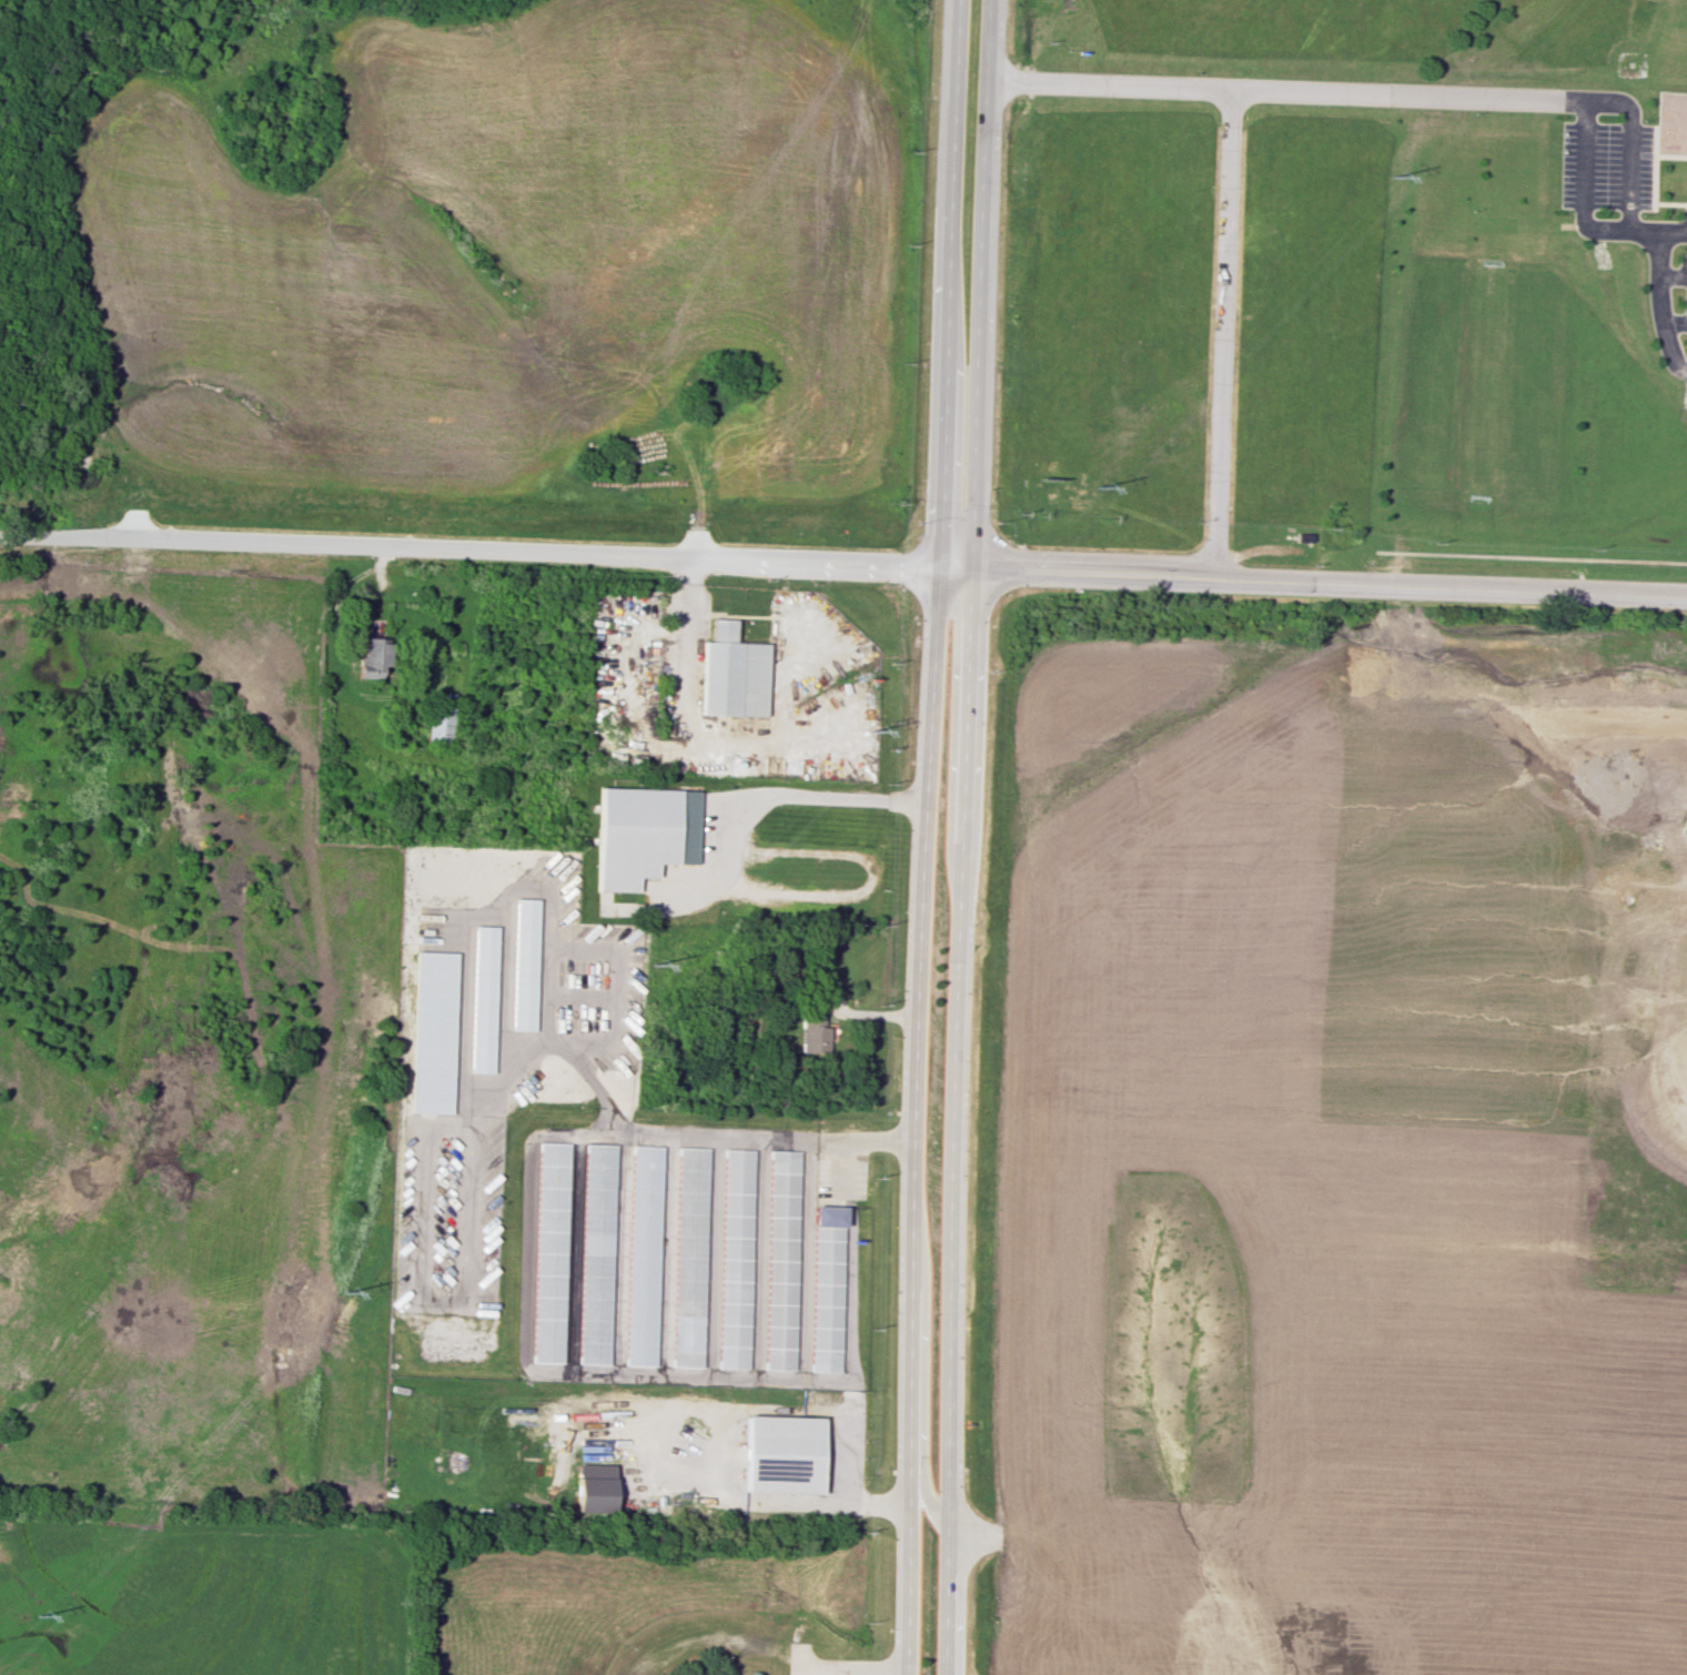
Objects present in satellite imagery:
road: (1185, 88)
road: (1515, 99)
road: (1583, 160)
parking lot: (1605, 167)
power tower: (1391, 174)
road: (1628, 178)
parking lot: (1684, 213)
road: (1613, 231)
crop: (515, 246)
road: (1670, 278)
parking lot: (1684, 281)
road: (1656, 289)
road: (1675, 323)
road: (1223, 336)
park: (1471, 377)
power tower: (1094, 485)
road: (468, 558)
road: (1312, 586)
building: (372, 657)
building: (730, 674)
building: (438, 724)
power tower: (868, 728)
road: (795, 791)
building: (642, 834)
road: (928, 837)
road: (967, 837)
building: (524, 963)
power tower: (650, 966)
building: (483, 999)
building: (432, 1032)
building: (812, 1033)
road: (528, 1215)
building: (550, 1251)
building: (596, 1252)
building: (643, 1254)
crop: (1272, 1254)
building: (688, 1257)
building: (734, 1257)
building: (780, 1260)
building: (827, 1286)
power tower: (341, 1290)
road: (920, 1389)
building: (779, 1453)
road: (848, 1469)
building: (594, 1487)
power tower: (33, 1614)
road: (856, 1671)

